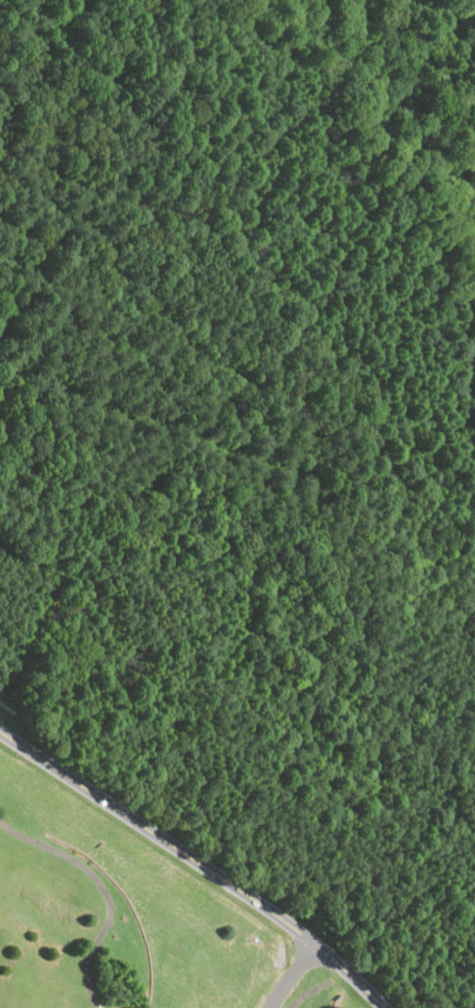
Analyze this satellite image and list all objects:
road: (197, 862)
road: (102, 891)
park: (125, 923)
road: (292, 975)
road: (309, 993)

